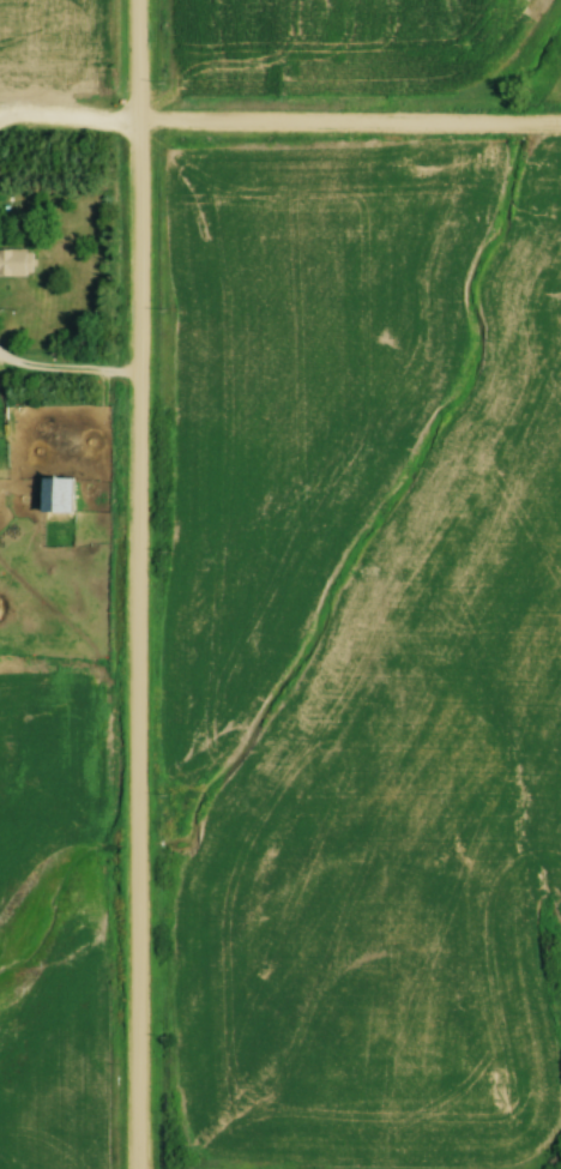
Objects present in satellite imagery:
road: (279, 125)
building: (14, 263)
road: (62, 374)
building: (54, 496)
road: (128, 584)

